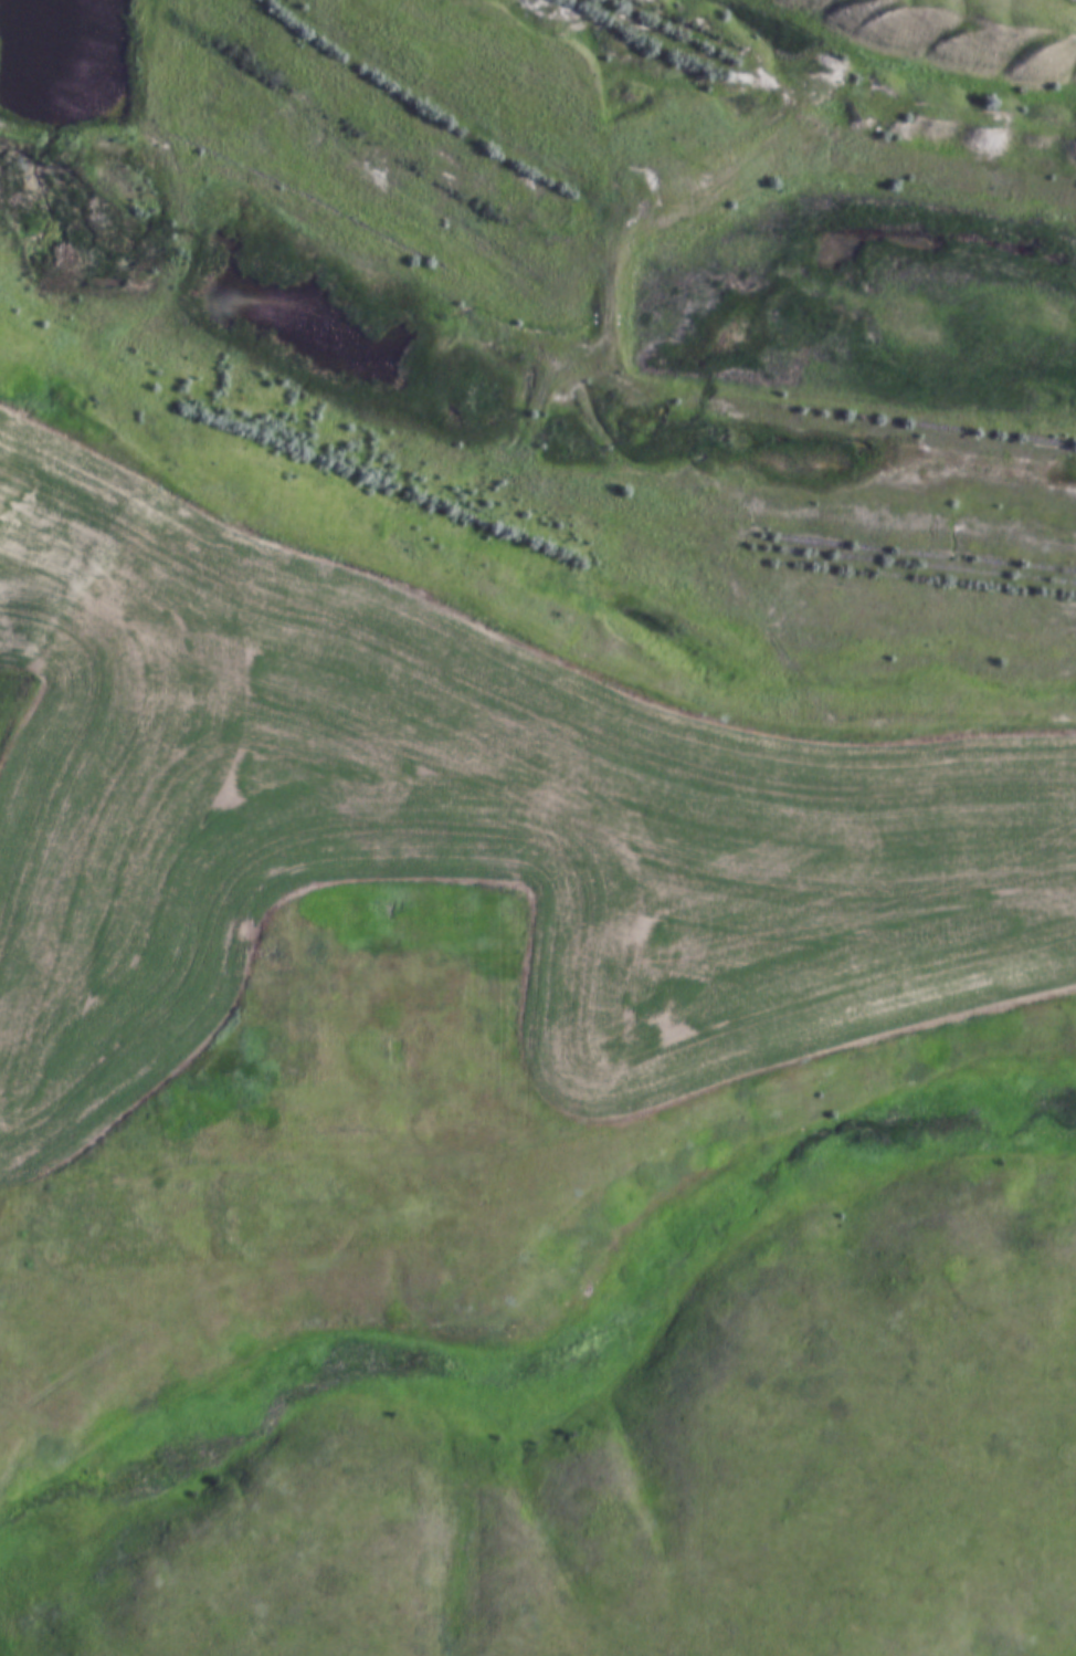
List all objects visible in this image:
quarry: (600, 281)

